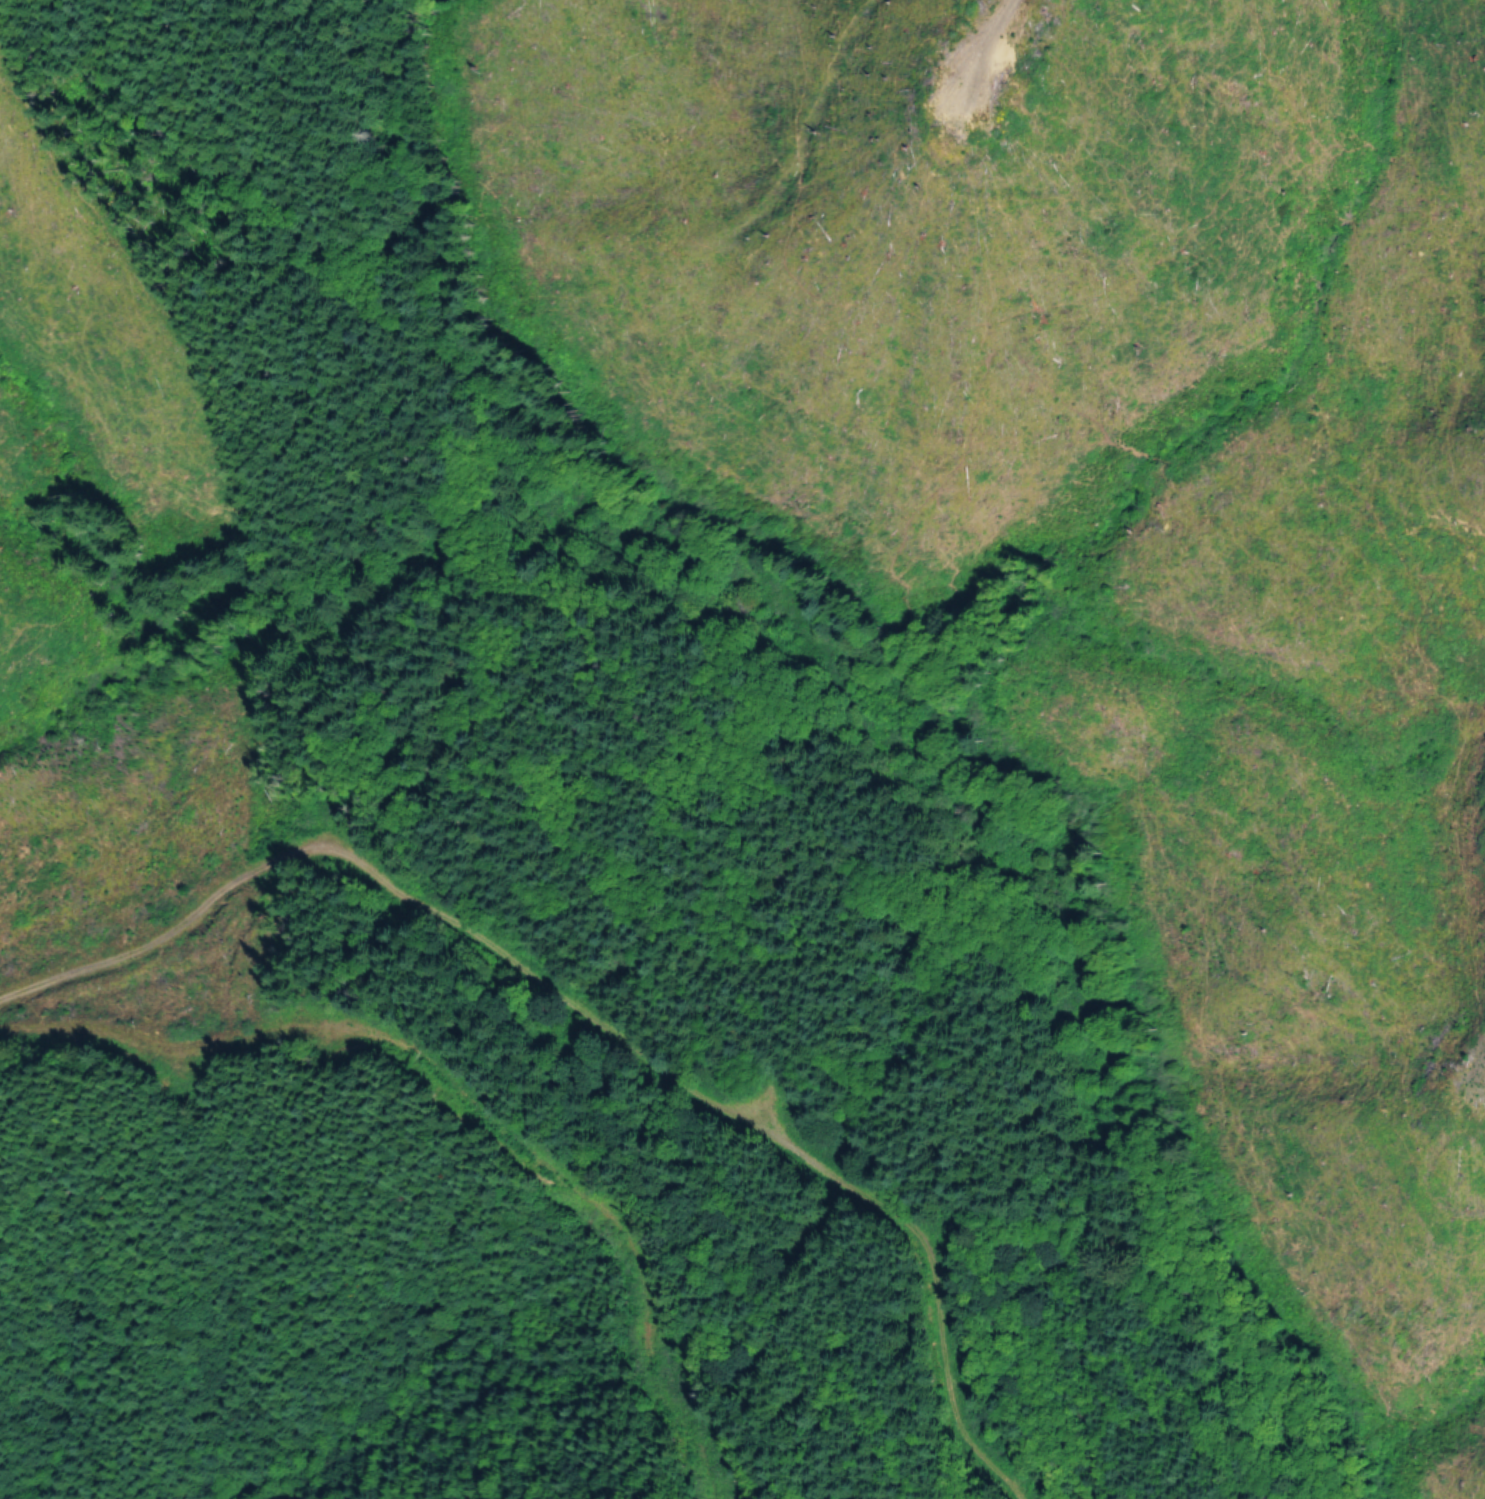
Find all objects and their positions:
road: (1015, 34)
road: (1470, 784)
road: (587, 1013)

